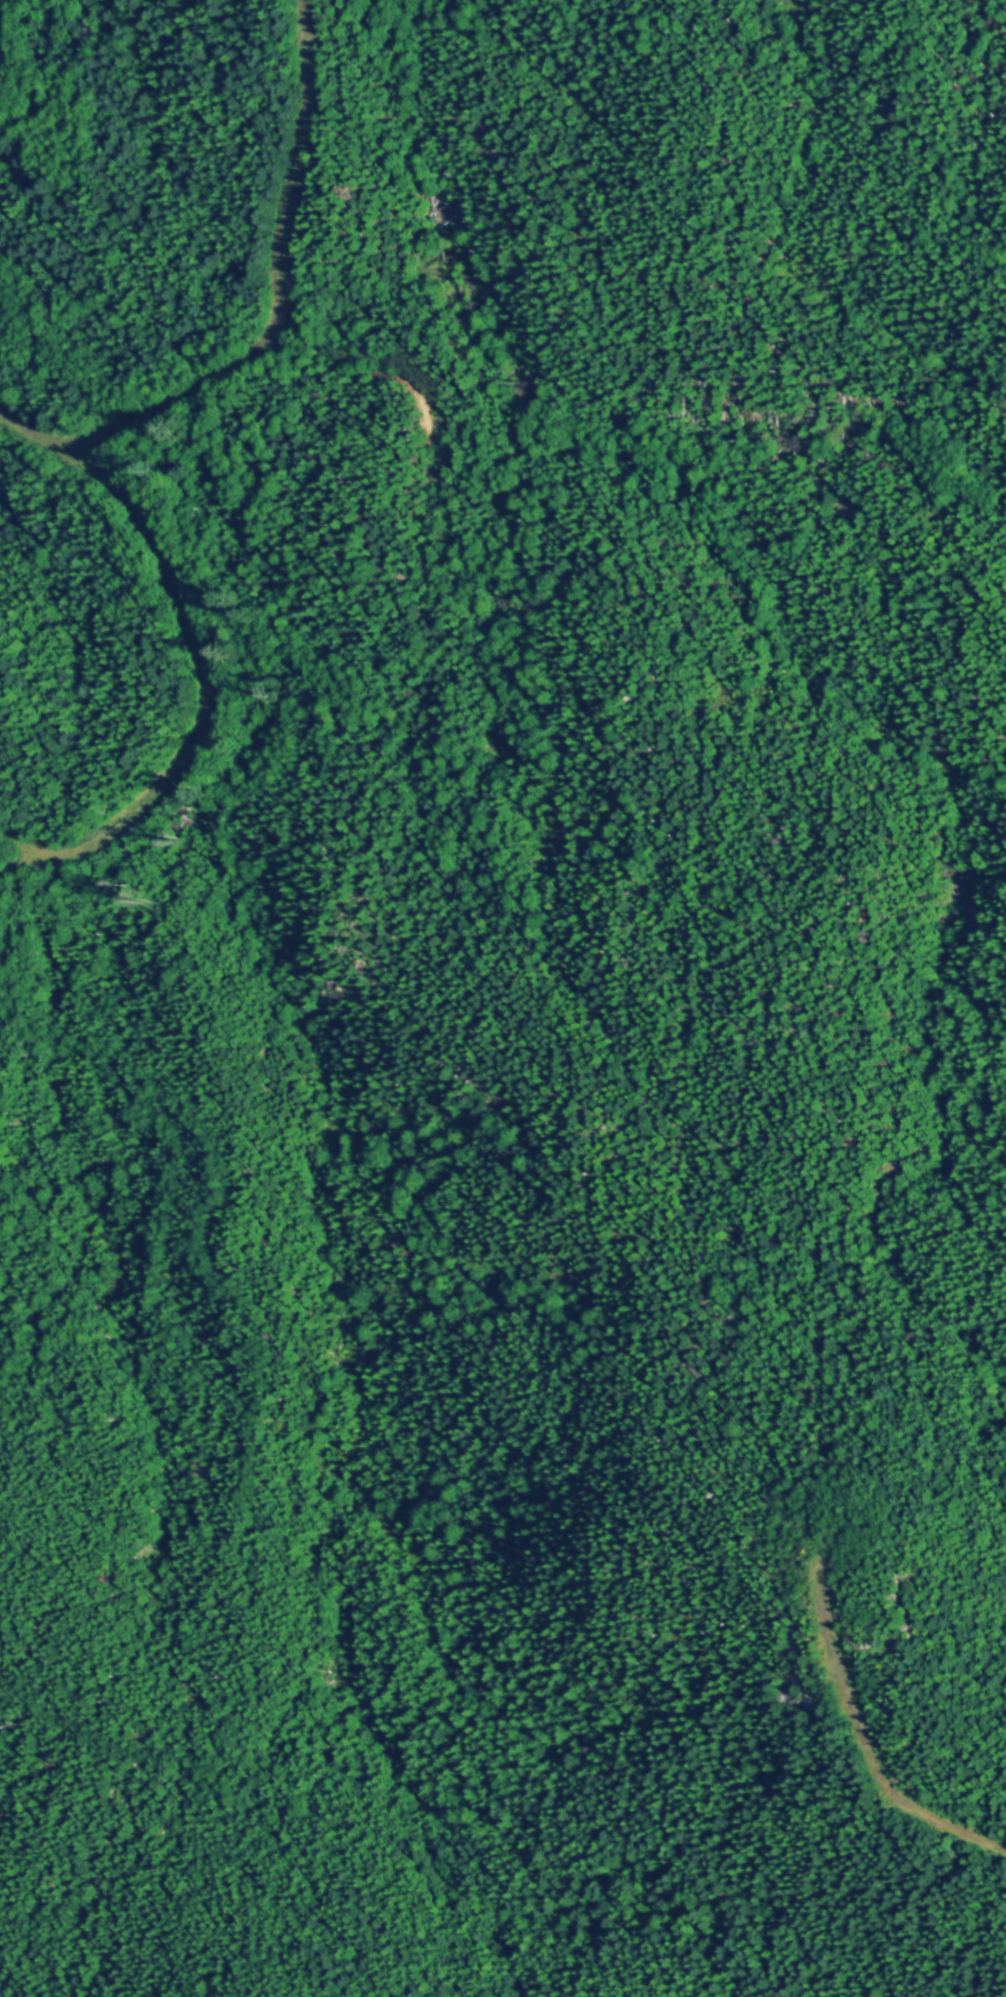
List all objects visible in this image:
road: (562, 462)

